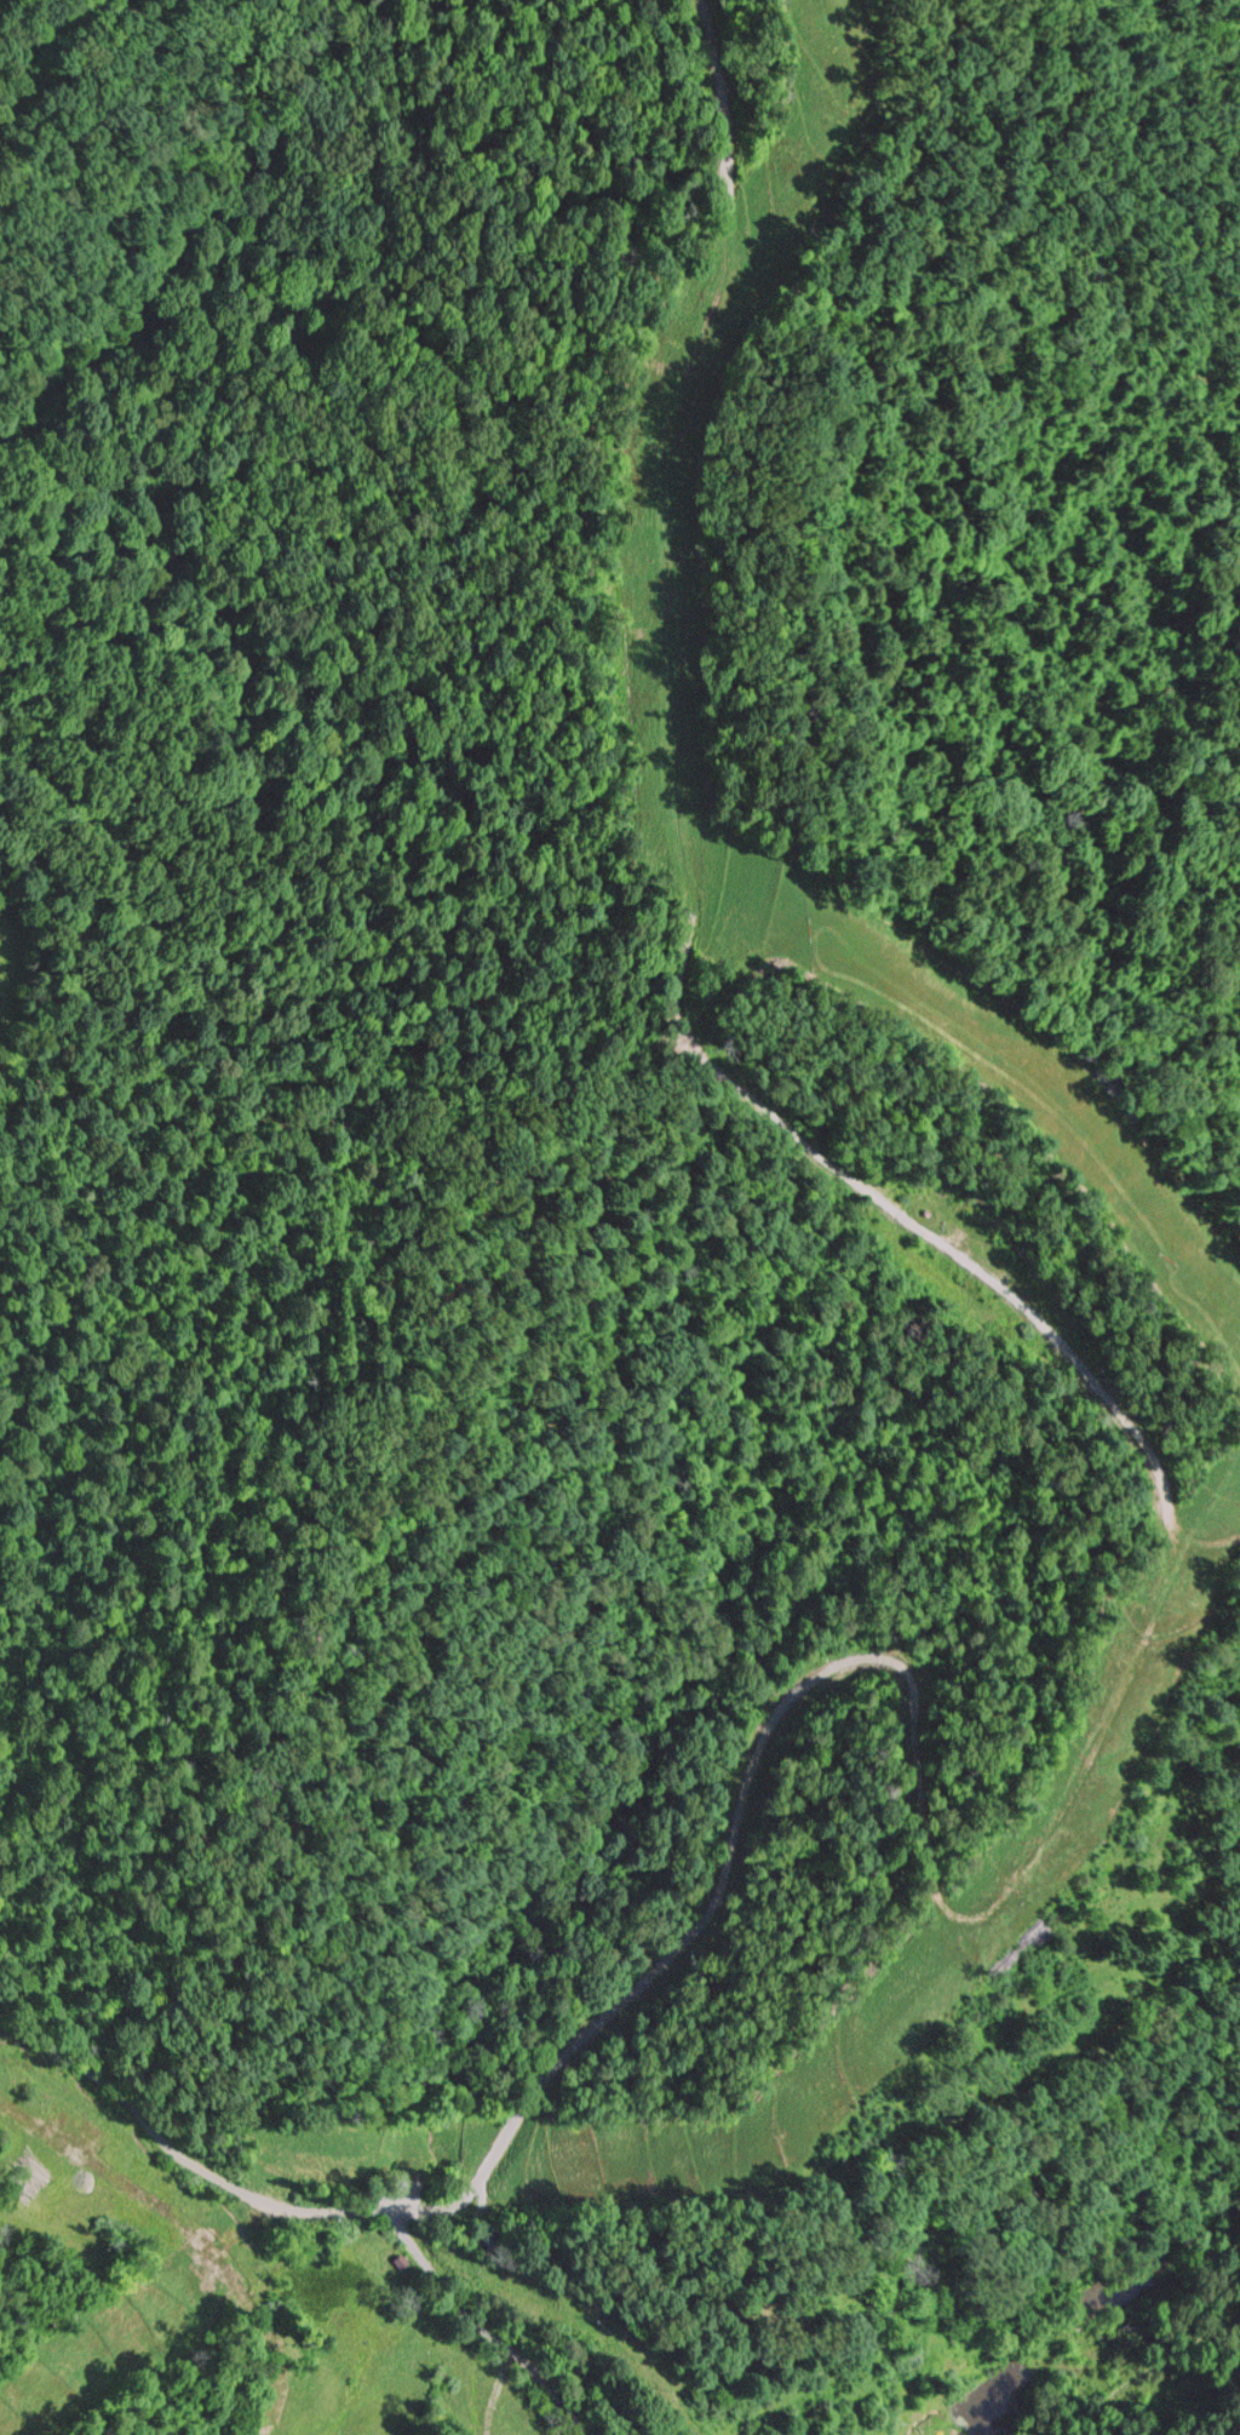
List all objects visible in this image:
road: (314, 2210)

